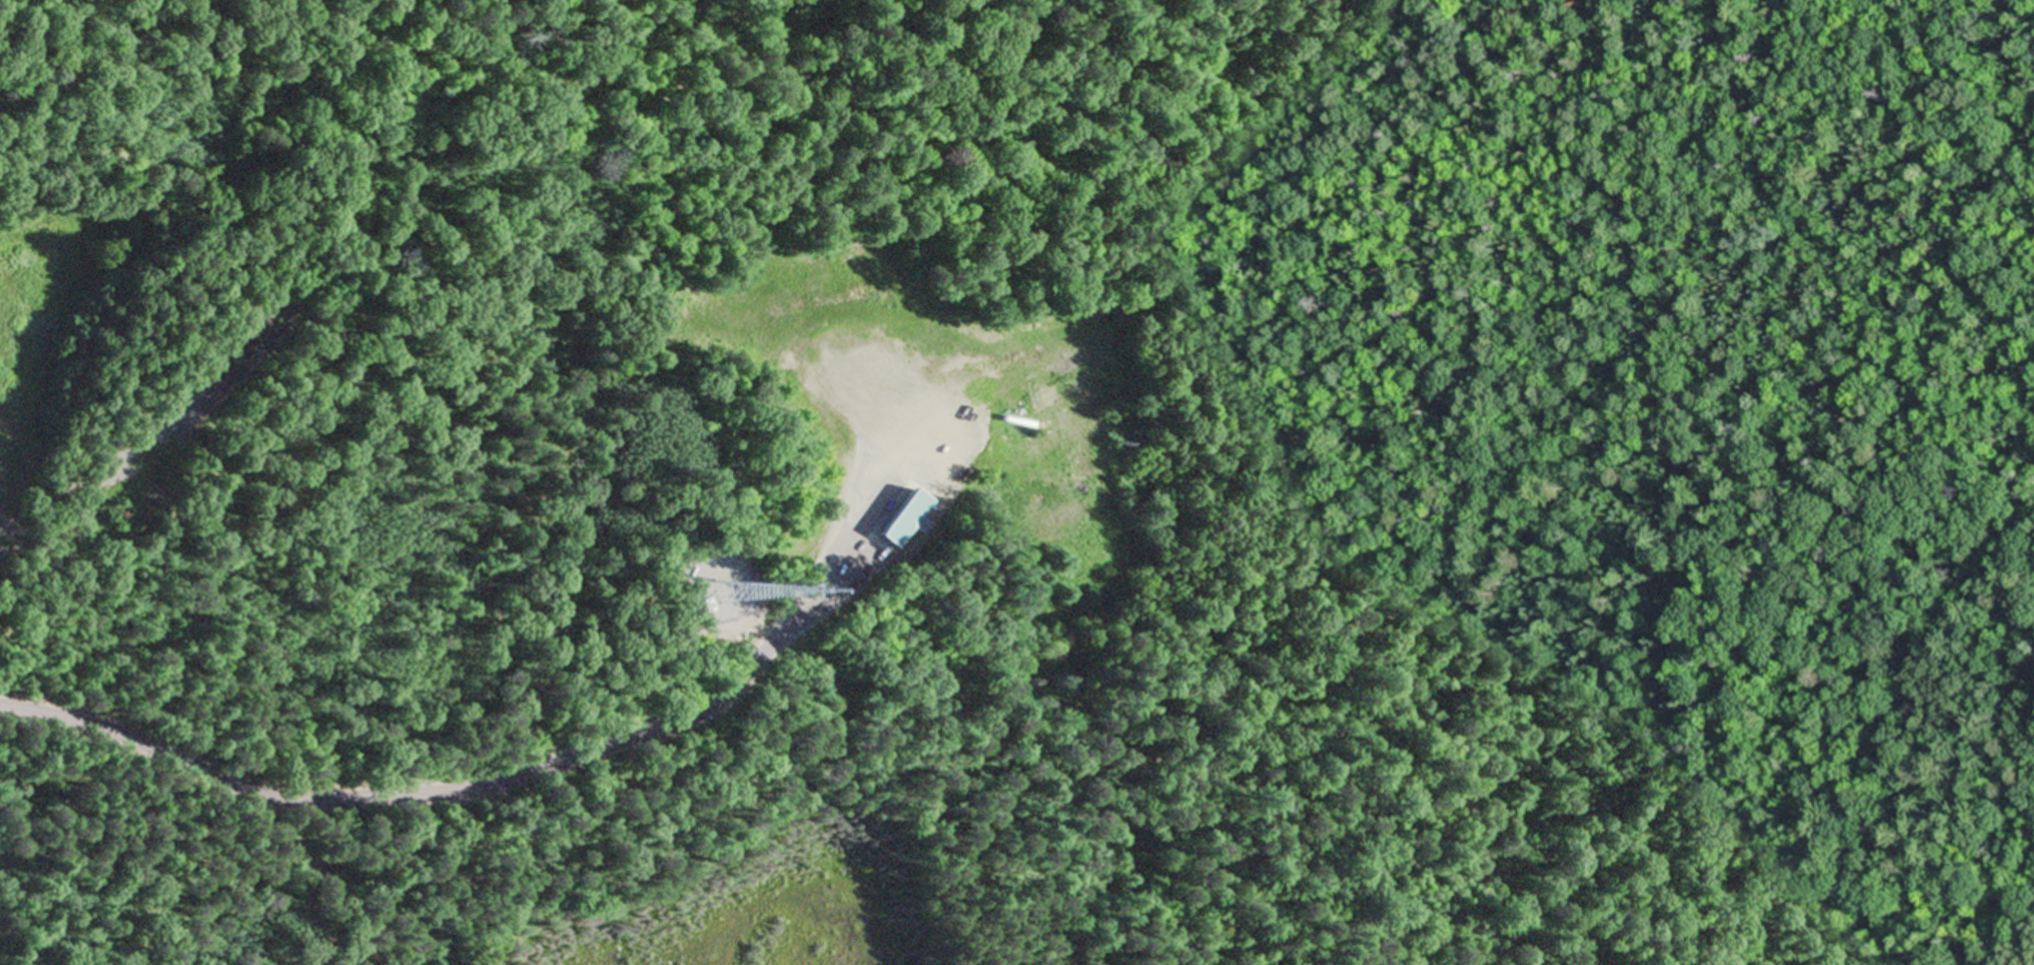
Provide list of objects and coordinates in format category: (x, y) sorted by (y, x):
park: (464, 237)
building: (902, 520)
landfill: (639, 574)
road: (496, 786)
park: (678, 865)

